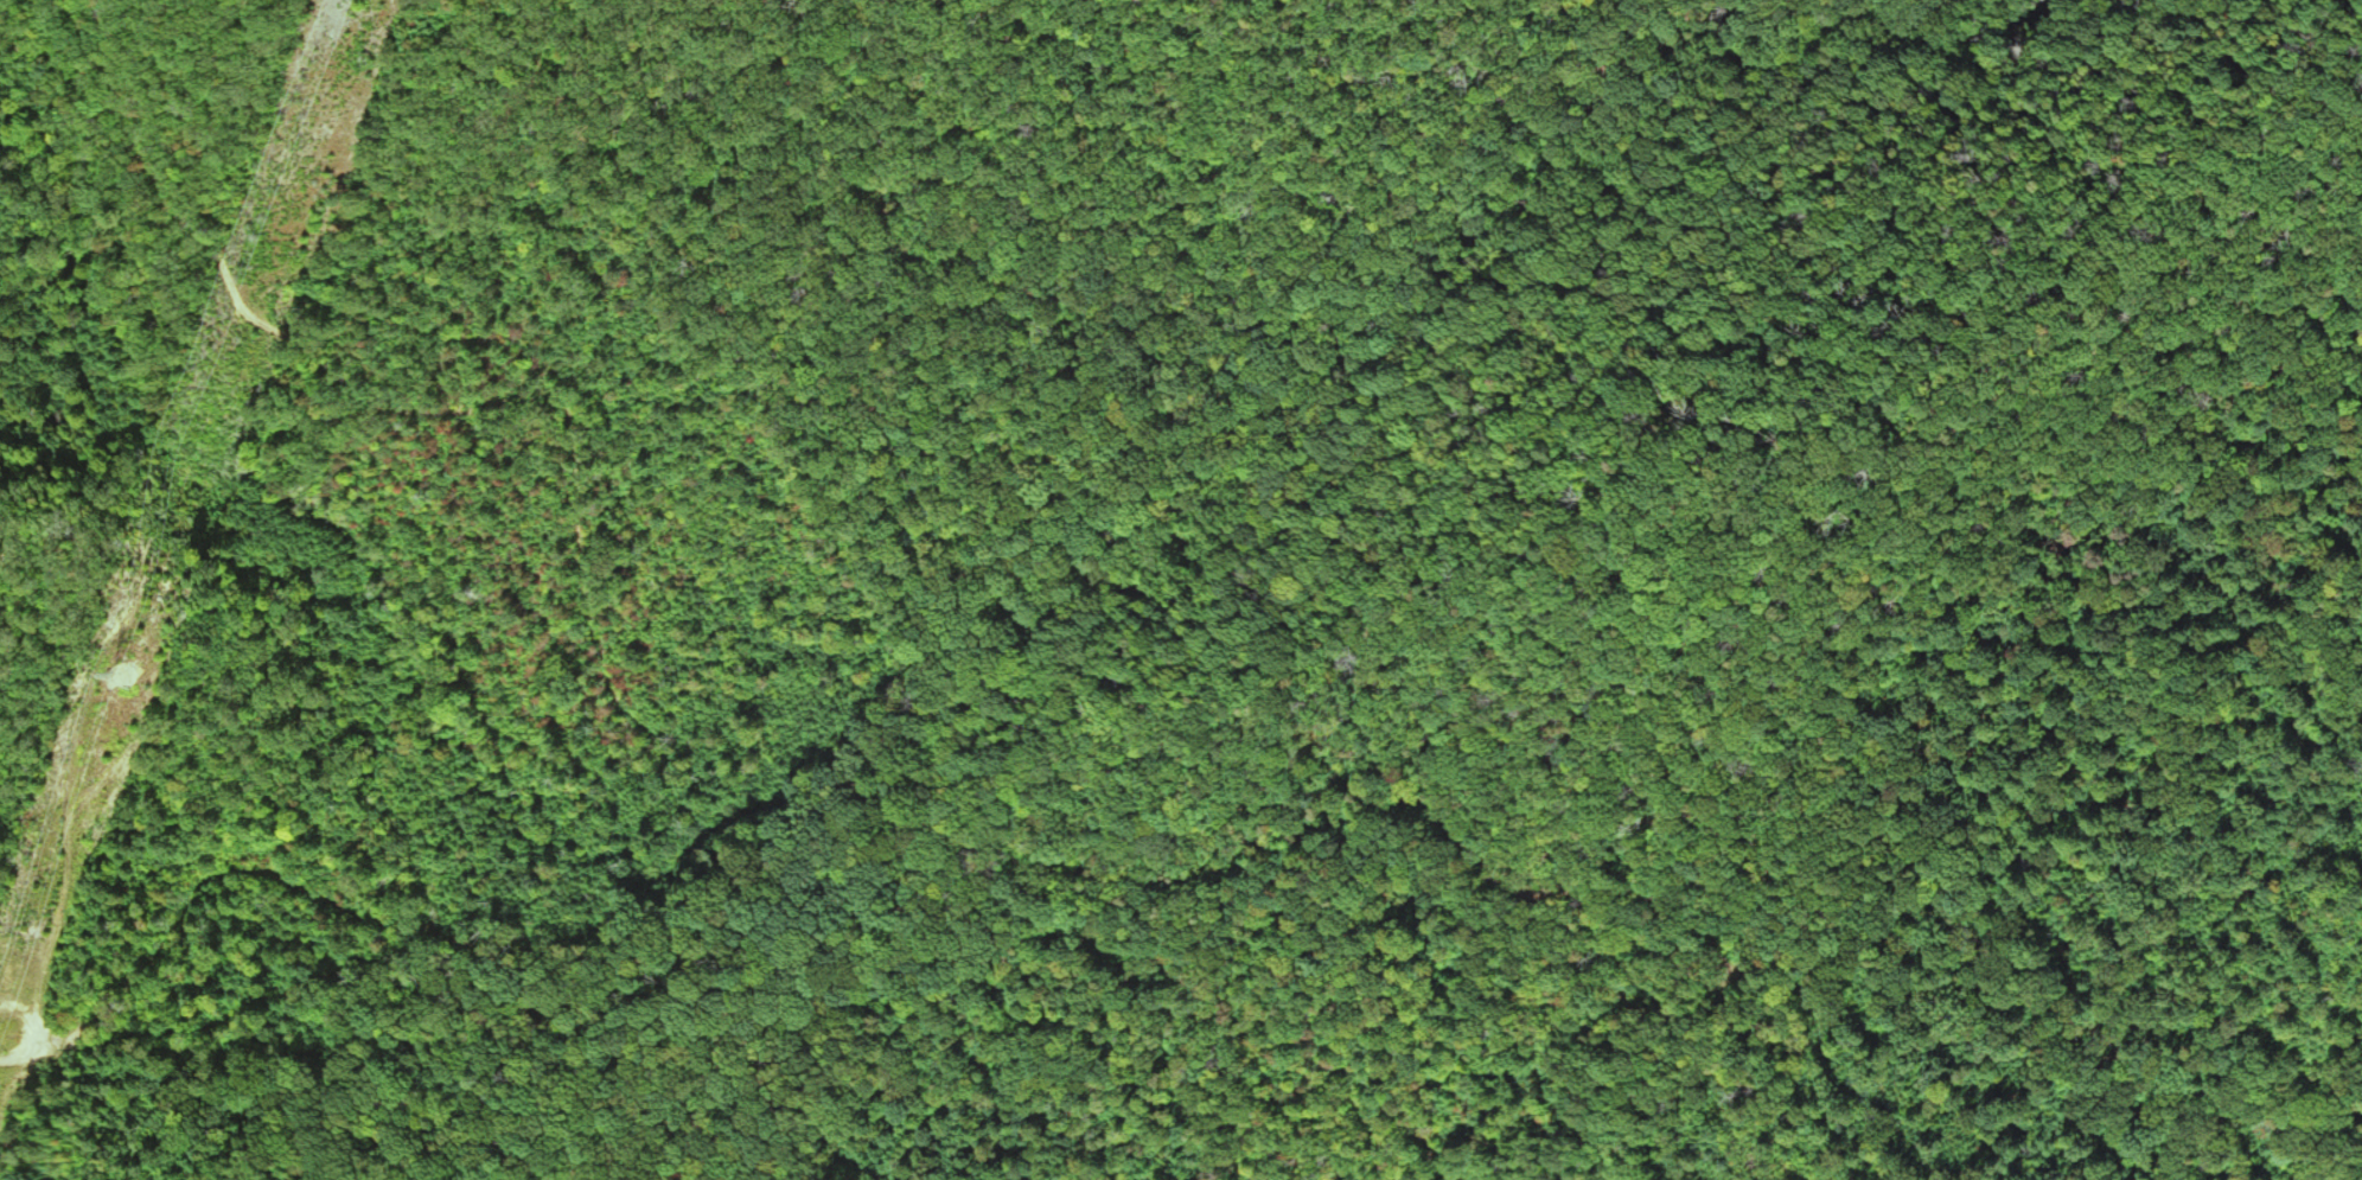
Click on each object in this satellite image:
power tower: (126, 676)
road: (992, 849)
road: (1489, 1073)

